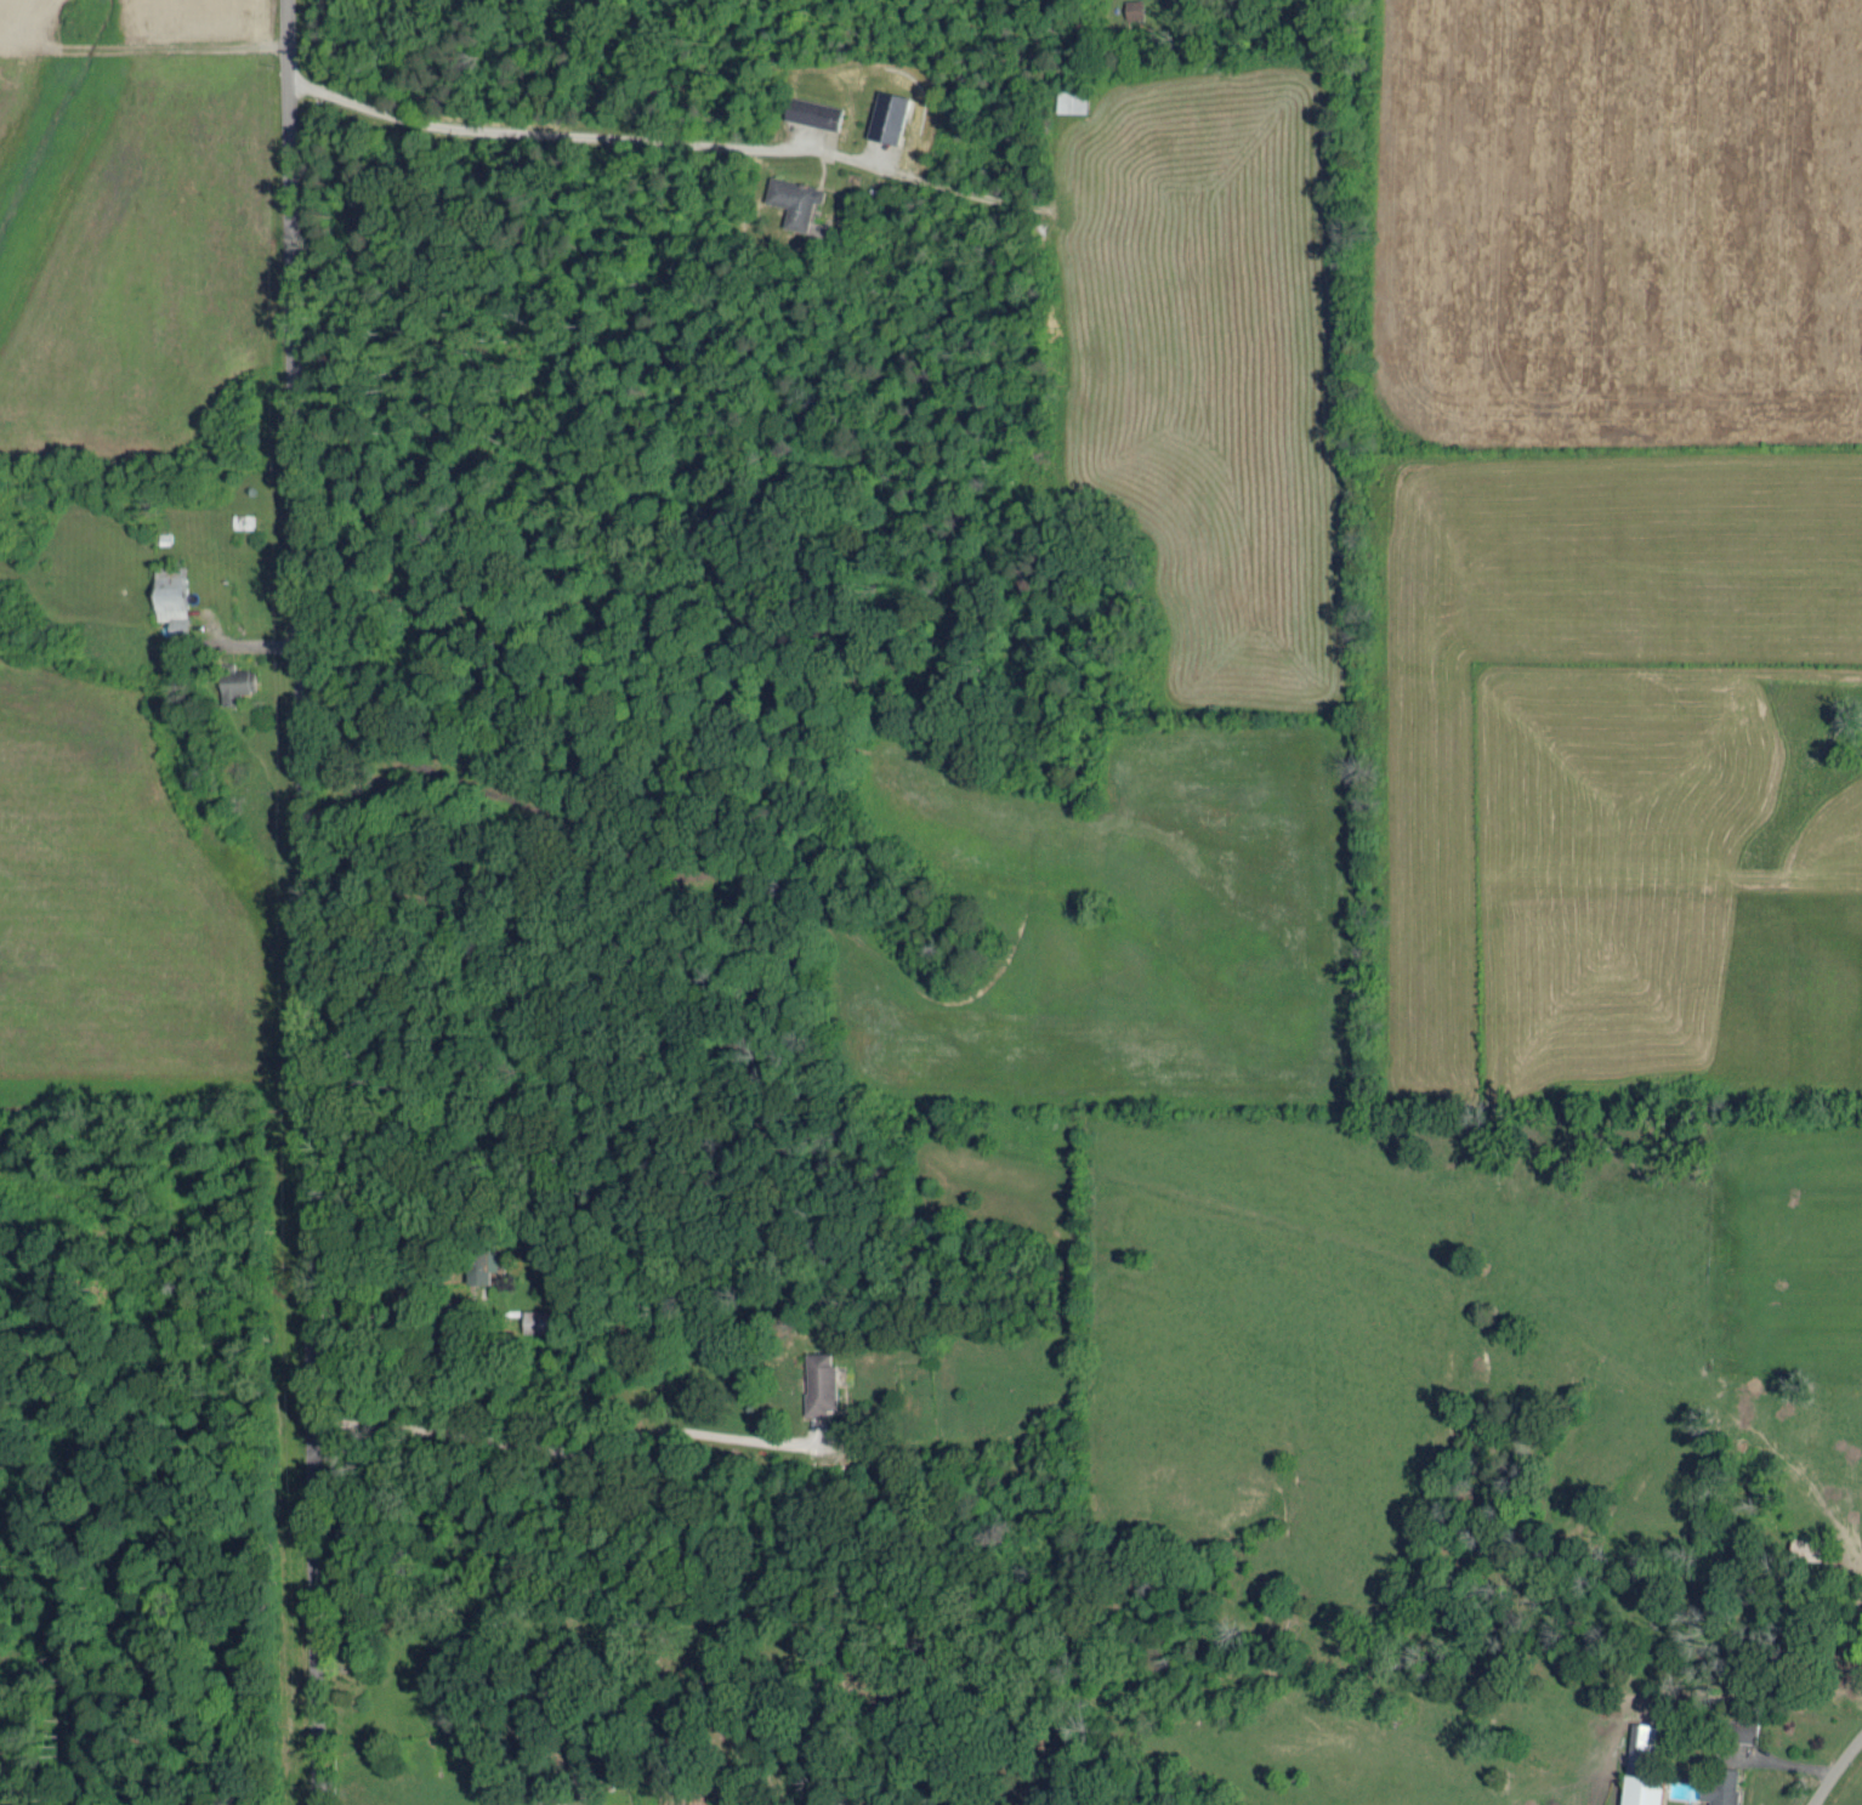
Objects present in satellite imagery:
building: (1132, 7)
building: (1071, 98)
building: (811, 109)
building: (885, 113)
road: (533, 123)
building: (793, 198)
building: (169, 595)
building: (233, 682)
road: (301, 902)
building: (481, 1264)
building: (537, 1318)
building: (818, 1380)
building: (1630, 1765)
road: (1834, 1769)
building: (1719, 1784)

